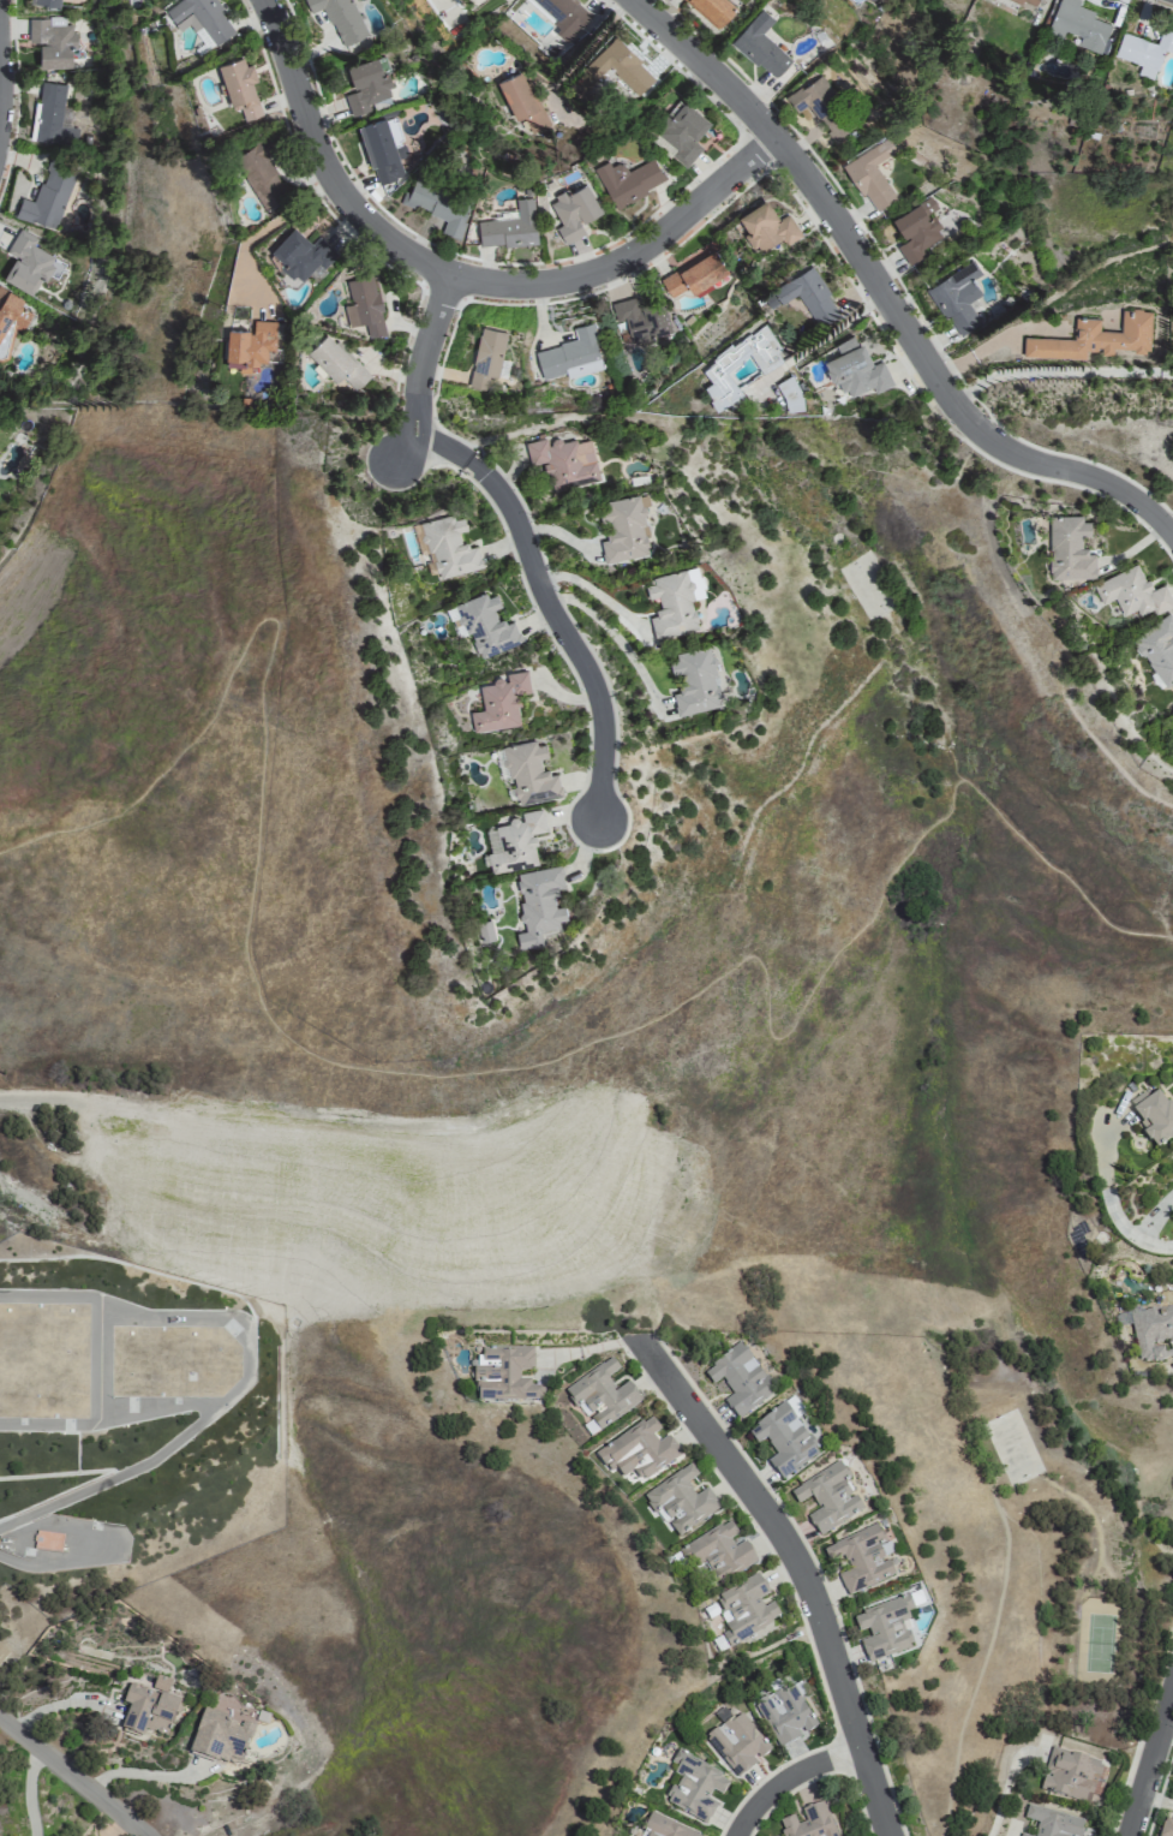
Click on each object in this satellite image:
building: (49, 2)
building: (1029, 2)
building: (713, 10)
building: (565, 16)
building: (204, 17)
building: (341, 19)
building: (1078, 25)
building: (53, 41)
building: (761, 44)
road: (581, 50)
building: (1144, 52)
building: (620, 67)
road: (0, 81)
building: (240, 85)
building: (814, 96)
building: (522, 102)
building: (55, 117)
building: (682, 133)
building: (383, 148)
building: (261, 169)
building: (872, 174)
building: (628, 180)
building: (48, 196)
building: (439, 204)
building: (574, 211)
road: (267, 227)
building: (510, 227)
building: (766, 227)
building: (917, 229)
building: (301, 254)
building: (28, 263)
building: (694, 274)
road: (466, 276)
road: (886, 293)
building: (806, 296)
building: (958, 297)
building: (365, 305)
building: (11, 314)
building: (642, 320)
road: (820, 338)
building: (1095, 338)
building: (250, 346)
building: (487, 356)
building: (571, 356)
building: (337, 362)
building: (716, 366)
building: (856, 369)
road: (1060, 372)
building: (790, 394)
road: (414, 460)
building: (564, 461)
road: (521, 529)
building: (623, 529)
building: (1070, 546)
building: (449, 547)
building: (1132, 591)
road: (594, 592)
building: (672, 606)
road: (270, 619)
building: (484, 625)
road: (615, 637)
building: (1157, 648)
building: (695, 682)
building: (501, 702)
building: (531, 773)
building: (515, 842)
building: (539, 904)
building: (485, 934)
road: (699, 988)
building: (1153, 1115)
road: (247, 1121)
road: (1141, 1241)
road: (986, 1242)
building: (1153, 1333)
building: (504, 1373)
building: (740, 1379)
building: (602, 1395)
building: (783, 1441)
building: (639, 1451)
storage tank: (41, 1453)
building: (827, 1498)
building: (681, 1501)
building: (47, 1540)
building: (718, 1554)
building: (861, 1558)
road: (20, 1562)
road: (803, 1566)
building: (744, 1609)
building: (884, 1628)
building: (2, 1652)
building: (146, 1711)
building: (784, 1715)
building: (219, 1737)
building: (736, 1742)
road: (1149, 1762)
road: (143, 1774)
building: (1070, 1775)
road: (73, 1776)
road: (796, 1778)
building: (694, 1786)
road: (29, 1790)
road: (1005, 1794)
building: (809, 1822)
building: (1052, 1822)
building: (664, 1828)
building: (1166, 1828)

